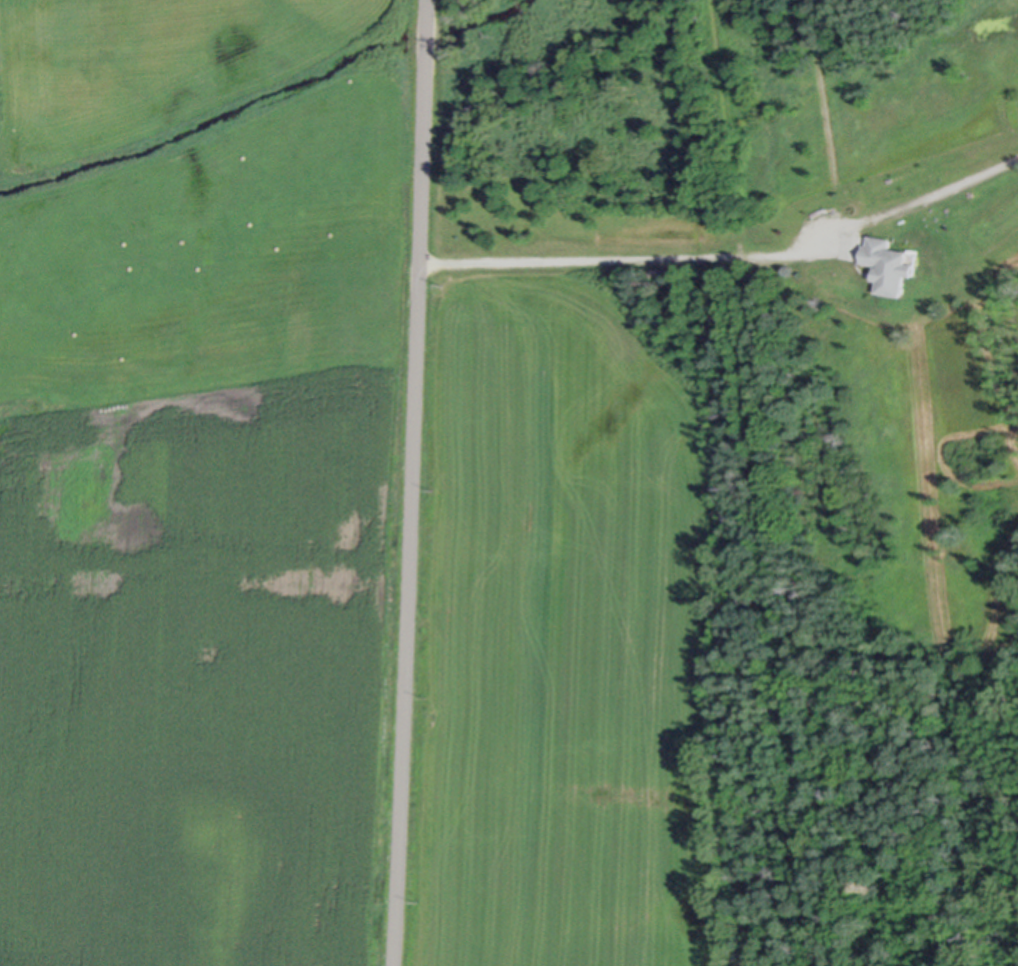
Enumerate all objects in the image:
river: (490, 17)
river: (430, 29)
river: (208, 120)
road: (727, 254)
building: (886, 264)
road: (409, 483)

